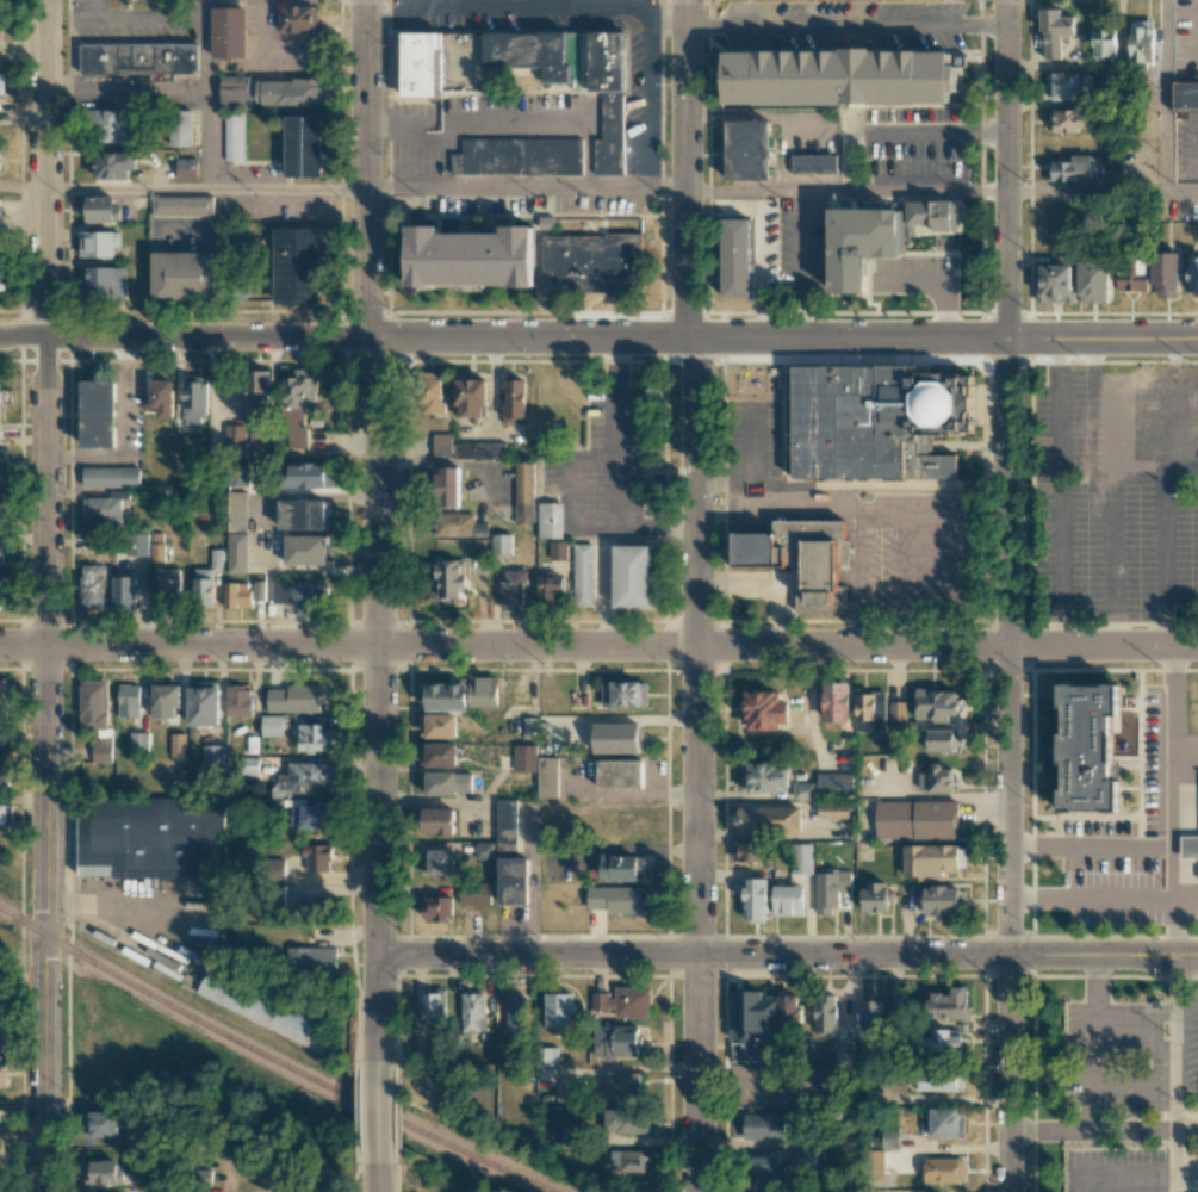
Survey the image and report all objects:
road: (592, 5)
road: (437, 6)
road: (614, 11)
road: (383, 12)
building: (298, 18)
road: (668, 25)
road: (845, 26)
building: (1055, 31)
building: (229, 32)
building: (1104, 41)
building: (1142, 41)
building: (138, 58)
building: (477, 58)
building: (840, 77)
building: (1, 83)
building: (1066, 85)
building: (234, 91)
building: (288, 92)
road: (204, 94)
road: (1166, 95)
building: (1185, 95)
building: (609, 101)
building: (1068, 119)
road: (501, 120)
building: (112, 125)
building: (180, 128)
road: (896, 132)
building: (234, 136)
building: (304, 145)
building: (751, 149)
building: (519, 156)
building: (813, 163)
building: (114, 164)
building: (186, 168)
building: (1075, 168)
road: (21, 187)
road: (285, 187)
road: (524, 187)
road: (124, 188)
road: (845, 190)
road: (1086, 190)
road: (1183, 191)
building: (181, 205)
building: (101, 210)
parking lot: (1178, 211)
building: (932, 215)
building: (1060, 216)
building: (103, 243)
building: (861, 244)
building: (474, 256)
building: (738, 257)
building: (591, 263)
building: (297, 265)
road: (801, 265)
building: (1165, 273)
building: (2, 274)
building: (1192, 274)
building: (186, 275)
building: (1131, 275)
building: (1092, 281)
building: (104, 283)
building: (1055, 283)
road: (44, 321)
road: (368, 322)
road: (598, 339)
building: (257, 390)
building: (430, 395)
building: (470, 397)
building: (160, 398)
building: (1113, 399)
building: (514, 401)
building: (193, 402)
building: (298, 405)
building: (879, 418)
building: (92, 422)
building: (235, 437)
building: (441, 443)
building: (479, 451)
parking lot: (600, 459)
road: (616, 473)
building: (237, 474)
building: (308, 476)
building: (111, 477)
building: (447, 486)
road: (852, 486)
building: (523, 491)
parking lot: (1115, 498)
building: (0, 504)
building: (236, 510)
building: (302, 514)
building: (550, 520)
building: (459, 524)
building: (137, 544)
building: (501, 545)
building: (157, 547)
building: (305, 550)
building: (0, 551)
building: (558, 551)
building: (236, 552)
building: (217, 558)
building: (582, 575)
building: (634, 576)
building: (824, 576)
building: (448, 578)
building: (169, 582)
building: (91, 588)
building: (206, 588)
building: (513, 588)
building: (124, 589)
building: (259, 590)
building: (550, 591)
building: (0, 594)
building: (300, 594)
building: (236, 595)
road: (696, 595)
road: (1007, 596)
road: (23, 642)
road: (211, 644)
road: (787, 645)
building: (479, 691)
building: (6, 694)
building: (625, 694)
building: (446, 696)
building: (296, 699)
building: (238, 700)
building: (129, 701)
building: (166, 701)
building: (836, 701)
building: (94, 703)
building: (204, 703)
building: (936, 703)
building: (764, 710)
building: (896, 710)
building: (870, 712)
building: (272, 725)
building: (437, 726)
building: (314, 738)
building: (615, 738)
building: (939, 739)
building: (139, 743)
building: (178, 745)
building: (101, 750)
road: (1185, 751)
building: (436, 753)
building: (213, 755)
building: (1082, 755)
building: (524, 760)
building: (252, 766)
building: (4, 770)
building: (620, 774)
building: (547, 777)
building: (764, 777)
building: (306, 778)
building: (937, 778)
building: (445, 782)
building: (833, 783)
building: (803, 790)
road: (377, 799)
road: (1173, 800)
building: (833, 809)
building: (5, 814)
building: (769, 819)
building: (917, 819)
building: (437, 821)
building: (505, 825)
building: (150, 840)
building: (1188, 846)
building: (484, 850)
building: (747, 851)
road: (1091, 851)
building: (317, 857)
building: (932, 859)
building: (437, 862)
building: (619, 867)
parking lot: (1107, 876)
road: (534, 877)
building: (1194, 879)
building: (513, 881)
building: (830, 889)
building: (474, 894)
building: (875, 896)
building: (615, 899)
building: (755, 899)
building: (788, 900)
building: (941, 900)
building: (317, 904)
road: (1091, 904)
road: (1185, 905)
building: (436, 908)
parking lot: (1192, 908)
road: (46, 918)
road: (788, 954)
building: (312, 960)
building: (1, 989)
building: (601, 1000)
building: (632, 1001)
building: (949, 1004)
building: (896, 1006)
road: (378, 1007)
building: (433, 1007)
building: (262, 1010)
building: (472, 1010)
building: (559, 1010)
building: (788, 1011)
building: (826, 1013)
building: (871, 1013)
building: (515, 1016)
building: (4, 1029)
building: (753, 1030)
building: (944, 1039)
building: (616, 1041)
road: (1093, 1044)
road: (1173, 1044)
building: (547, 1056)
railway: (269, 1060)
parking lot: (1112, 1060)
building: (2, 1075)
building: (938, 1080)
building: (622, 1084)
building: (567, 1095)
road: (378, 1113)
building: (621, 1122)
building: (945, 1122)
building: (100, 1124)
building: (764, 1126)
road: (1091, 1134)
building: (573, 1136)
building: (806, 1156)
building: (638, 1162)
road: (1174, 1162)
building: (768, 1167)
building: (943, 1169)
building: (101, 1172)
road: (225, 1172)
parking lot: (1113, 1173)
road: (378, 1179)
road: (1123, 1182)

